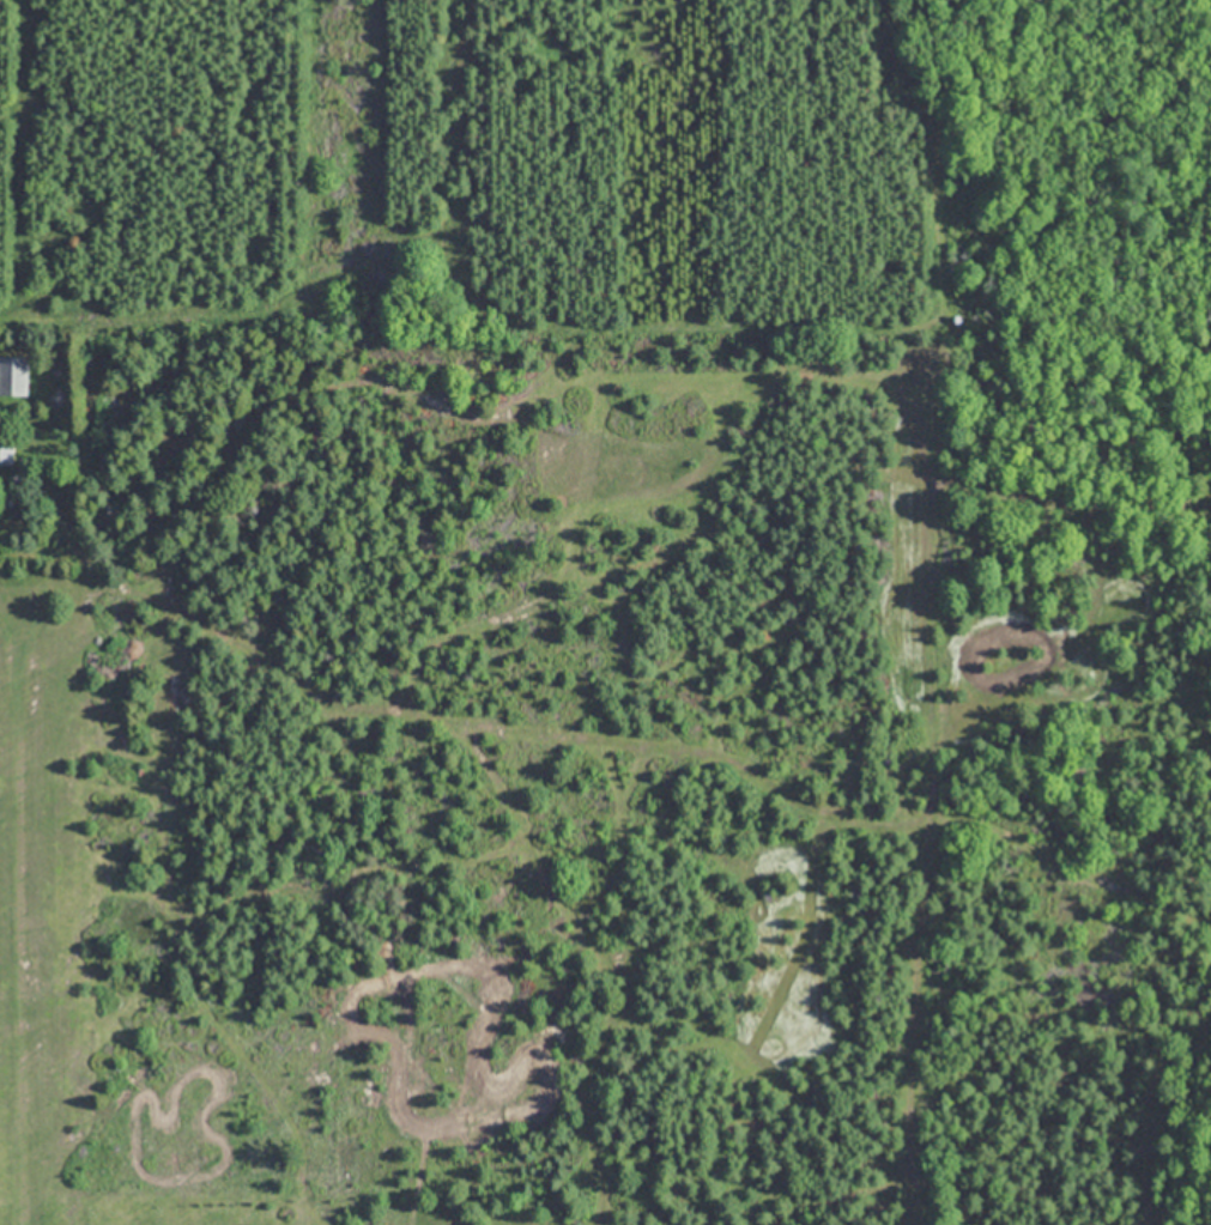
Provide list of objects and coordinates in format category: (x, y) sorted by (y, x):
building: (13, 376)

